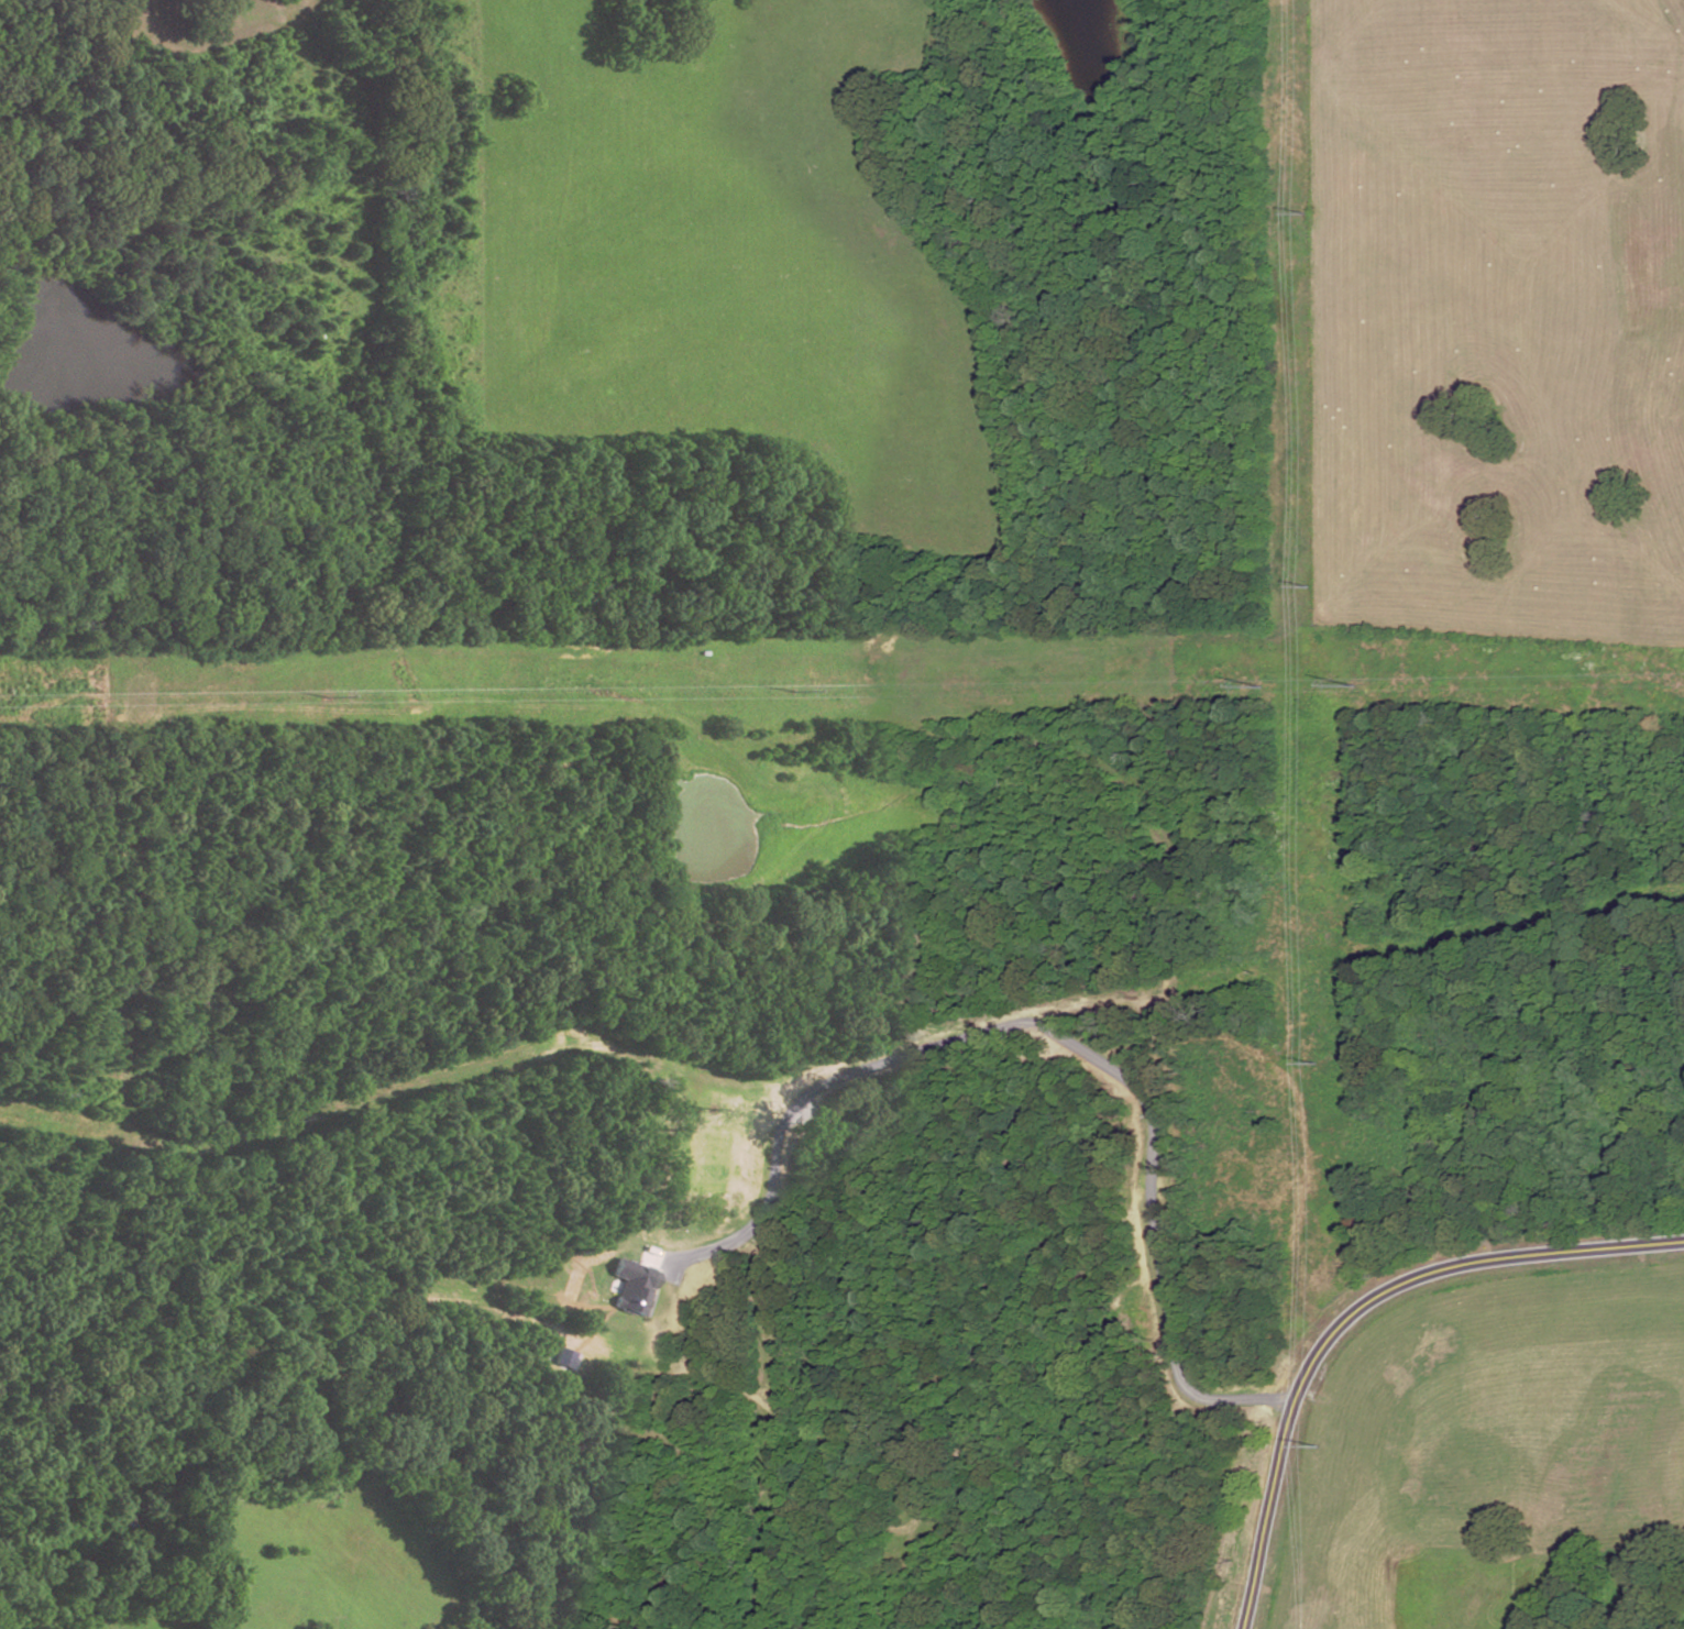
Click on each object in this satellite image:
power tower: (1309, 211)
power tower: (1313, 585)
power tower: (1316, 1063)
building: (634, 1286)
road: (1356, 1313)
building: (563, 1358)
power tower: (1318, 1439)

